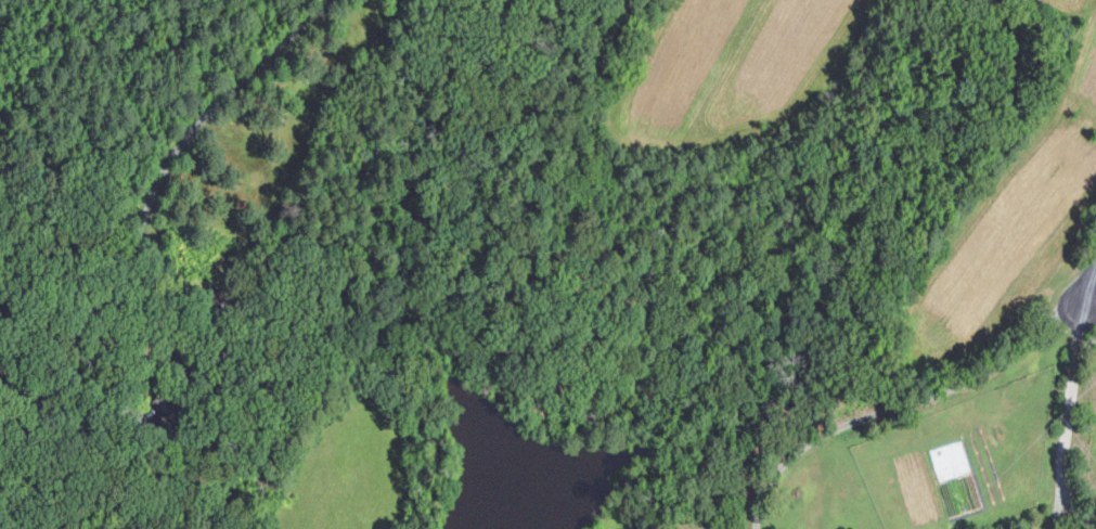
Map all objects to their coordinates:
road: (138, 215)
road: (1089, 280)
road: (905, 404)
road: (1070, 413)
road: (80, 421)
road: (1078, 512)

